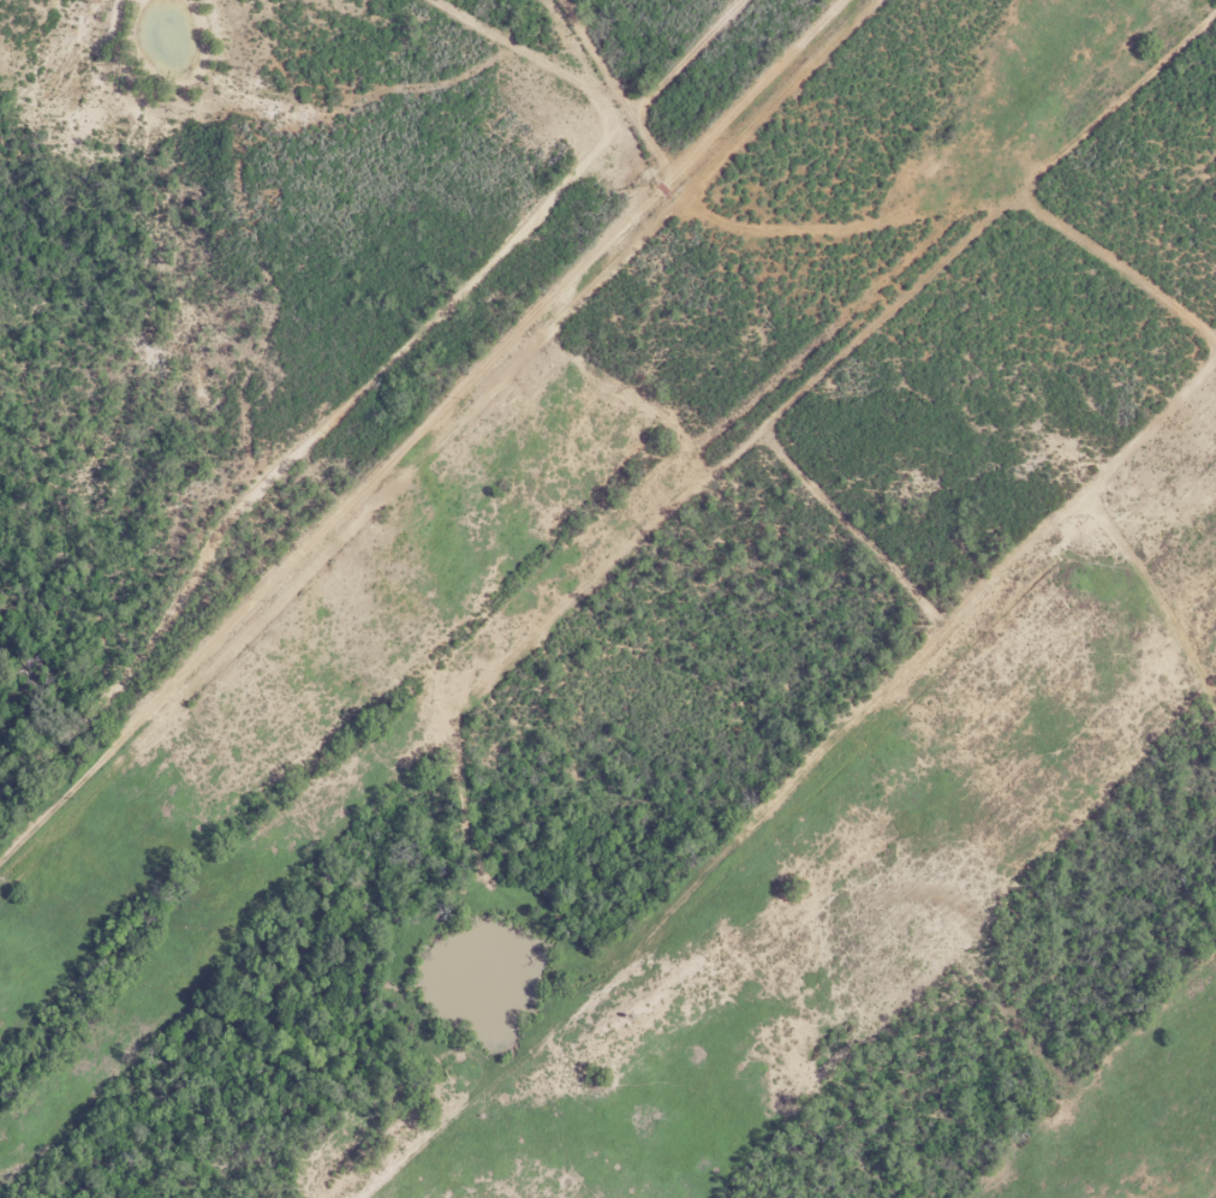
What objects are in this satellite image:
road: (422, 425)
road: (487, 490)

